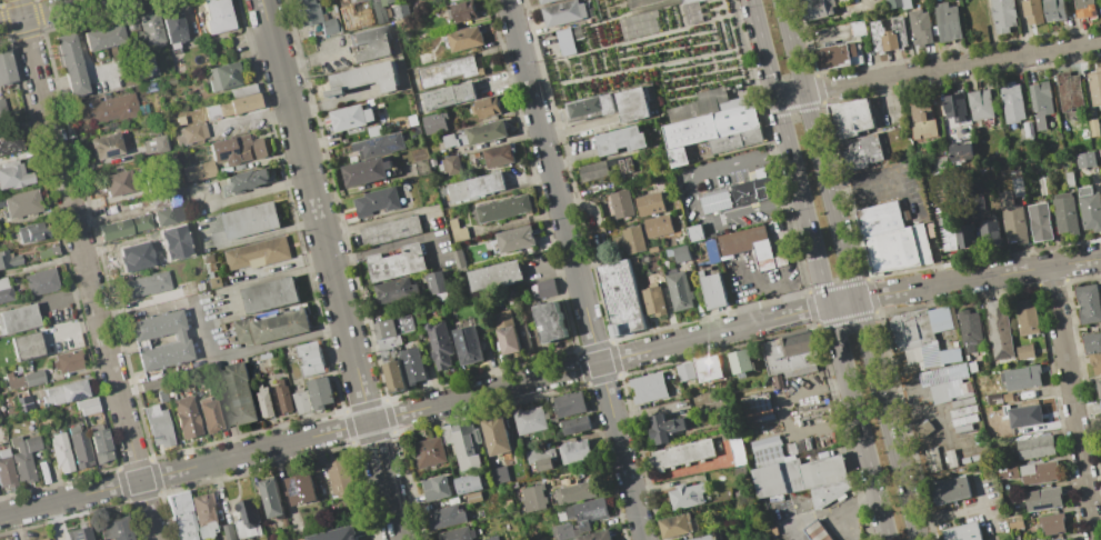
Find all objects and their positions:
building: (352, 0)
building: (452, 0)
building: (543, 1)
building: (899, 3)
building: (642, 8)
building: (818, 8)
building: (1084, 8)
building: (400, 10)
building: (1053, 10)
road: (46, 11)
building: (379, 11)
building: (461, 11)
building: (1032, 11)
building: (562, 12)
building: (1002, 14)
building: (217, 16)
building: (313, 16)
building: (130, 20)
building: (947, 21)
building: (638, 23)
building: (172, 26)
building: (919, 27)
building: (150, 28)
building: (888, 36)
building: (102, 37)
building: (462, 38)
building: (568, 39)
building: (371, 43)
road: (792, 46)
road: (763, 48)
building: (842, 50)
road: (310, 58)
building: (69, 62)
building: (142, 63)
road: (952, 67)
building: (6, 69)
building: (447, 70)
building: (221, 76)
building: (366, 78)
building: (148, 86)
building: (1094, 87)
building: (1069, 91)
road: (790, 94)
building: (449, 96)
building: (234, 102)
building: (631, 103)
building: (1012, 103)
building: (1040, 103)
building: (592, 104)
building: (980, 104)
building: (106, 107)
building: (484, 107)
building: (954, 108)
building: (2, 109)
road: (253, 117)
building: (349, 117)
building: (850, 118)
building: (411, 119)
building: (180, 120)
building: (921, 120)
building: (436, 122)
building: (711, 123)
road: (782, 123)
road: (578, 127)
building: (1093, 128)
building: (1028, 129)
building: (373, 130)
building: (486, 132)
building: (190, 133)
rooftop solar panel: (392, 136)
building: (453, 139)
building: (620, 139)
building: (10, 141)
rooftop solar panel: (370, 142)
road: (817, 143)
building: (153, 144)
building: (377, 144)
building: (104, 146)
building: (237, 149)
rooftop solar panel: (392, 150)
building: (961, 151)
building: (1099, 151)
building: (859, 152)
rooftop solar panel: (232, 154)
building: (498, 154)
road: (779, 154)
rooftop solar panel: (107, 156)
rooftop solar panel: (220, 158)
building: (1085, 159)
building: (939, 163)
building: (449, 164)
building: (421, 167)
building: (198, 170)
building: (591, 170)
building: (366, 171)
building: (13, 174)
road: (795, 174)
building: (1069, 179)
building: (246, 180)
road: (553, 180)
road: (892, 181)
building: (116, 182)
building: (1043, 186)
building: (474, 187)
building: (1017, 187)
building: (752, 190)
building: (158, 200)
road: (695, 200)
building: (374, 201)
building: (714, 201)
road: (790, 201)
building: (0, 202)
building: (22, 203)
building: (621, 203)
building: (649, 203)
building: (502, 208)
building: (1089, 209)
building: (1064, 213)
building: (168, 214)
building: (879, 218)
building: (1012, 219)
building: (250, 220)
building: (1040, 221)
building: (123, 226)
building: (657, 226)
building: (389, 230)
building: (457, 230)
building: (989, 230)
building: (31, 231)
building: (694, 233)
building: (948, 234)
building: (962, 237)
building: (514, 238)
building: (632, 239)
building: (743, 247)
road: (843, 247)
building: (652, 249)
building: (897, 249)
building: (48, 251)
road: (814, 251)
building: (258, 252)
building: (680, 253)
building: (458, 258)
building: (9, 259)
building: (396, 262)
road: (87, 270)
road: (331, 270)
building: (493, 276)
road: (978, 278)
building: (40, 281)
building: (214, 281)
building: (436, 283)
building: (144, 284)
road: (770, 287)
building: (542, 289)
building: (712, 289)
building: (4, 290)
building: (394, 290)
building: (678, 290)
building: (269, 294)
building: (620, 297)
road: (66, 298)
building: (652, 301)
road: (843, 301)
building: (1088, 303)
building: (1025, 316)
building: (18, 318)
road: (861, 318)
building: (939, 318)
building: (548, 321)
building: (269, 328)
road: (834, 328)
building: (969, 329)
building: (999, 329)
building: (510, 331)
road: (714, 332)
building: (909, 332)
building: (181, 340)
building: (1091, 342)
building: (440, 343)
building: (26, 346)
building: (468, 346)
road: (248, 350)
building: (386, 350)
building: (1024, 350)
building: (929, 351)
building: (790, 354)
building: (949, 354)
building: (310, 357)
building: (67, 361)
building: (740, 362)
building: (1095, 363)
building: (411, 366)
building: (972, 366)
building: (708, 368)
building: (684, 371)
building: (942, 374)
building: (1021, 377)
building: (33, 378)
building: (13, 380)
building: (149, 384)
building: (648, 387)
building: (964, 387)
building: (1098, 387)
building: (319, 391)
building: (64, 392)
building: (239, 393)
building: (963, 394)
building: (161, 396)
building: (283, 396)
building: (1007, 397)
rooftop solar panel: (77, 398)
building: (993, 398)
building: (299, 399)
building: (264, 401)
building: (24, 402)
building: (962, 402)
road: (1071, 402)
building: (568, 403)
building: (1100, 403)
building: (87, 406)
building: (758, 411)
building: (962, 411)
building: (208, 414)
building: (1022, 414)
road: (788, 416)
building: (184, 417)
building: (529, 419)
building: (963, 419)
road: (370, 420)
building: (574, 424)
building: (157, 426)
building: (664, 427)
building: (961, 428)
building: (496, 434)
road: (892, 439)
building: (463, 442)
building: (78, 444)
building: (99, 446)
road: (864, 446)
building: (1033, 447)
building: (765, 448)
building: (738, 450)
building: (428, 451)
building: (573, 451)
road: (621, 451)
building: (60, 452)
building: (680, 453)
building: (23, 457)
building: (950, 458)
building: (932, 460)
building: (544, 464)
building: (6, 470)
building: (739, 471)
building: (825, 471)
building: (1007, 471)
building: (1039, 472)
building: (498, 473)
building: (790, 474)
building: (340, 476)
building: (768, 480)
building: (468, 483)
building: (434, 487)
building: (300, 488)
building: (951, 490)
building: (574, 492)
building: (828, 492)
building: (684, 494)
road: (981, 496)
building: (270, 497)
building: (473, 497)
building: (532, 497)
road: (70, 498)
building: (1043, 498)
building: (585, 512)
building: (204, 514)
building: (446, 516)
road: (949, 516)
building: (181, 517)
building: (247, 519)
building: (1014, 521)
building: (1051, 522)
building: (674, 524)
building: (114, 529)
building: (227, 531)
building: (562, 531)
building: (817, 531)
building: (962, 532)
building: (77, 533)
building: (334, 533)
building: (457, 533)
building: (594, 536)
building: (1015, 537)
building: (491, 538)
building: (703, 538)
building: (42, 539)
building: (1062, 539)
building: (1067, 539)

